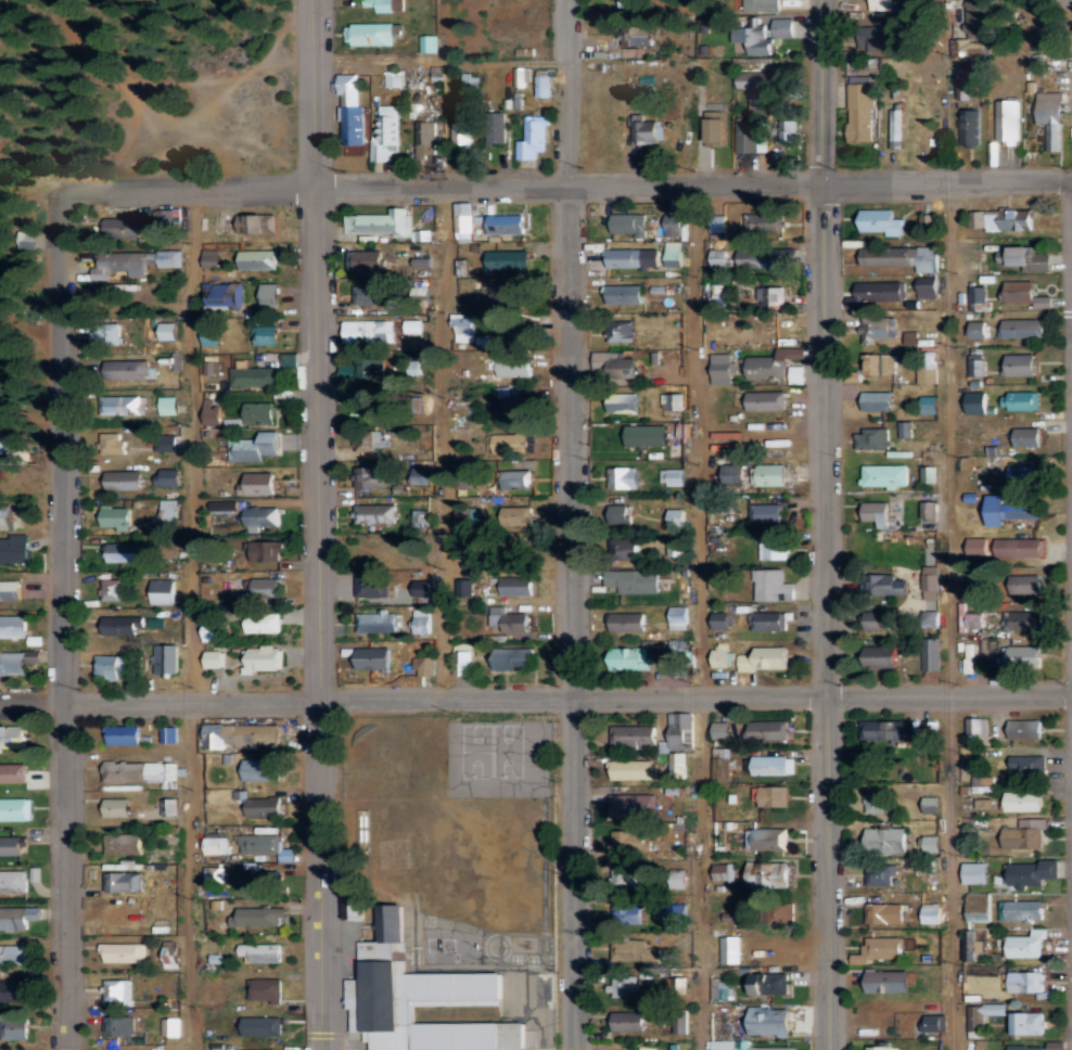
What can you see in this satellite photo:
road: (1068, 1)
building: (628, 3)
building: (384, 4)
building: (761, 4)
building: (371, 34)
building: (763, 34)
building: (638, 37)
building: (427, 43)
building: (521, 77)
building: (392, 78)
building: (470, 80)
building: (965, 84)
building: (541, 87)
building: (753, 87)
road: (575, 91)
building: (862, 107)
building: (352, 111)
building: (1051, 117)
building: (1006, 121)
building: (966, 127)
building: (461, 128)
building: (714, 128)
building: (896, 128)
building: (643, 129)
building: (790, 130)
building: (385, 133)
building: (424, 135)
building: (532, 137)
building: (751, 137)
road: (565, 181)
building: (462, 218)
building: (1010, 220)
building: (880, 221)
building: (379, 222)
building: (764, 222)
building: (165, 223)
building: (260, 223)
building: (507, 223)
building: (629, 223)
building: (674, 225)
building: (125, 227)
building: (717, 231)
building: (674, 254)
building: (210, 255)
building: (718, 257)
building: (903, 257)
building: (633, 258)
building: (761, 258)
building: (1025, 258)
building: (258, 259)
building: (509, 259)
building: (365, 260)
building: (131, 261)
building: (462, 267)
building: (928, 287)
building: (221, 293)
building: (876, 293)
building: (268, 294)
building: (372, 294)
building: (505, 294)
building: (625, 294)
building: (1024, 294)
building: (770, 297)
building: (978, 298)
building: (412, 325)
building: (1021, 328)
building: (462, 329)
building: (878, 329)
building: (979, 329)
building: (168, 331)
building: (368, 331)
building: (621, 333)
building: (106, 334)
building: (266, 335)
building: (210, 336)
building: (910, 337)
building: (771, 363)
building: (880, 363)
building: (977, 364)
building: (1019, 364)
building: (616, 367)
building: (513, 368)
building: (360, 369)
building: (722, 369)
building: (127, 370)
building: (928, 370)
building: (254, 376)
building: (765, 400)
building: (878, 400)
building: (1020, 400)
building: (978, 402)
building: (623, 404)
building: (930, 404)
building: (126, 405)
building: (168, 405)
building: (366, 405)
building: (513, 405)
building: (210, 413)
building: (258, 413)
building: (904, 430)
road: (445, 435)
building: (648, 435)
building: (1029, 437)
building: (871, 438)
building: (372, 440)
building: (507, 440)
building: (112, 441)
building: (254, 447)
building: (20, 448)
building: (1023, 474)
building: (733, 475)
building: (929, 475)
building: (515, 476)
building: (884, 476)
building: (170, 477)
building: (371, 477)
building: (623, 478)
building: (124, 481)
building: (257, 484)
building: (222, 505)
building: (930, 510)
building: (1009, 510)
building: (620, 511)
building: (168, 512)
building: (374, 513)
building: (765, 513)
building: (877, 513)
building: (516, 516)
building: (8, 517)
building: (116, 517)
building: (260, 517)
building: (676, 517)
building: (420, 518)
road: (317, 524)
road: (826, 524)
building: (675, 547)
building: (978, 547)
building: (1020, 547)
building: (14, 548)
building: (770, 548)
building: (124, 552)
building: (634, 579)
building: (973, 580)
building: (930, 581)
building: (884, 584)
building: (1028, 584)
building: (372, 585)
building: (422, 585)
building: (516, 585)
building: (773, 585)
building: (267, 586)
building: (10, 588)
building: (111, 589)
building: (162, 591)
road: (948, 614)
road: (573, 615)
road: (704, 615)
building: (678, 616)
road: (195, 617)
building: (878, 618)
building: (720, 619)
building: (975, 619)
building: (1019, 619)
building: (375, 620)
building: (422, 620)
building: (510, 620)
building: (627, 620)
building: (767, 620)
road: (61, 622)
building: (261, 622)
building: (122, 624)
building: (12, 626)
building: (213, 629)
building: (722, 653)
building: (931, 653)
building: (1023, 655)
building: (677, 656)
building: (882, 656)
building: (164, 657)
building: (212, 657)
building: (261, 657)
building: (374, 657)
building: (513, 657)
building: (631, 657)
building: (765, 657)
building: (968, 657)
building: (462, 658)
building: (12, 662)
building: (110, 665)
building: (424, 665)
road: (536, 693)
building: (1025, 728)
building: (720, 729)
building: (767, 729)
building: (680, 730)
building: (13, 734)
building: (123, 734)
building: (240, 734)
building: (633, 734)
building: (719, 763)
building: (770, 764)
building: (1028, 765)
building: (676, 766)
building: (261, 768)
building: (631, 768)
building: (143, 771)
building: (11, 772)
building: (982, 780)
building: (769, 794)
building: (1023, 801)
building: (875, 802)
building: (631, 804)
building: (931, 804)
building: (117, 806)
building: (263, 806)
building: (15, 808)
building: (1024, 833)
building: (767, 837)
building: (886, 838)
building: (627, 840)
building: (215, 843)
building: (931, 843)
building: (123, 844)
building: (11, 845)
building: (264, 845)
building: (975, 872)
building: (1030, 872)
building: (214, 873)
building: (768, 874)
building: (881, 874)
building: (627, 876)
building: (17, 879)
building: (270, 880)
building: (123, 881)
building: (979, 907)
building: (1021, 909)
building: (624, 912)
building: (884, 912)
building: (932, 913)
building: (18, 915)
building: (258, 915)
building: (1026, 944)
building: (972, 945)
building: (730, 948)
building: (879, 949)
building: (169, 951)
building: (259, 951)
building: (634, 951)
building: (12, 953)
building: (889, 981)
building: (767, 982)
building: (622, 985)
building: (265, 988)
building: (720, 988)
building: (117, 989)
building: (13, 990)
building: (424, 999)
building: (983, 1014)
building: (628, 1020)
building: (769, 1021)
building: (934, 1022)
building: (1025, 1022)
building: (118, 1025)
building: (170, 1025)
building: (263, 1026)
building: (14, 1028)
building: (743, 1046)
building: (885, 1048)
building: (218, 1049)

